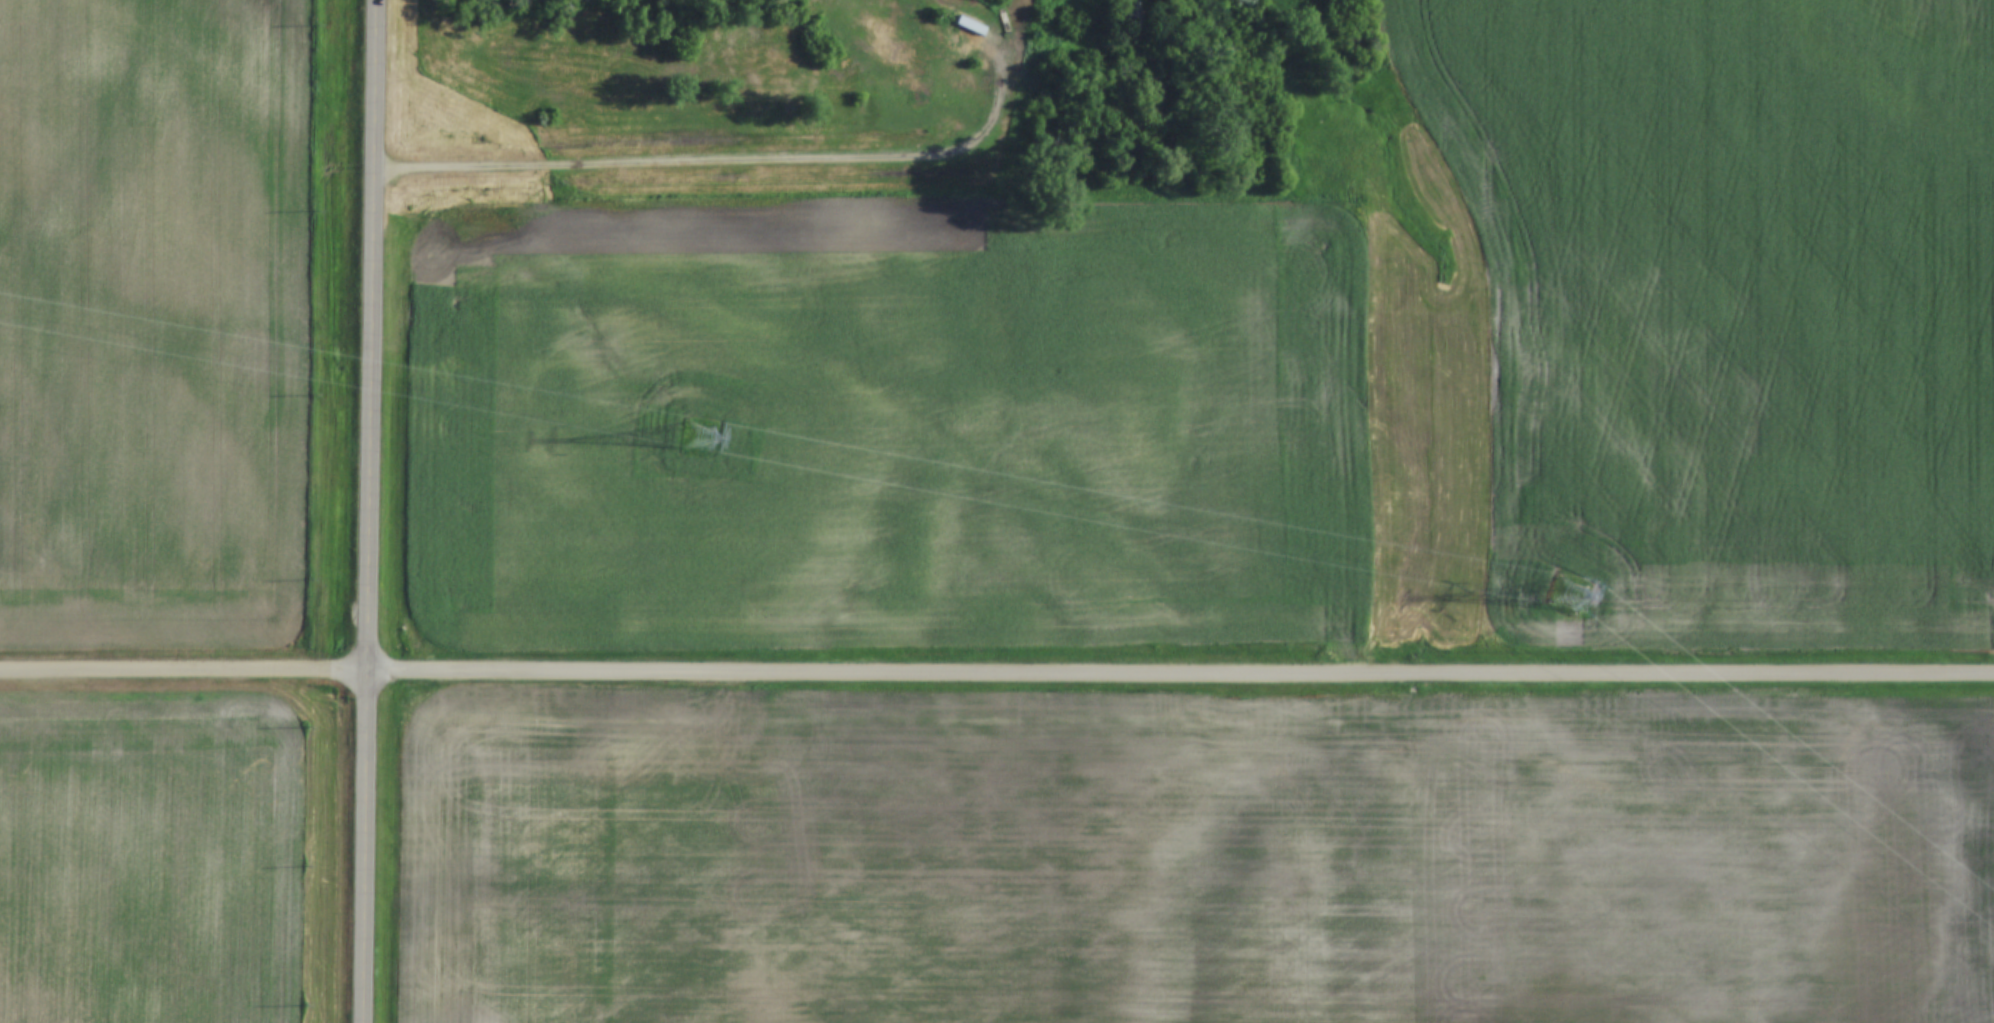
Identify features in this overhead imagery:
building: (1130, 17)
road: (774, 163)
power tower: (697, 434)
road: (373, 511)
power tower: (1573, 590)
road: (996, 673)

